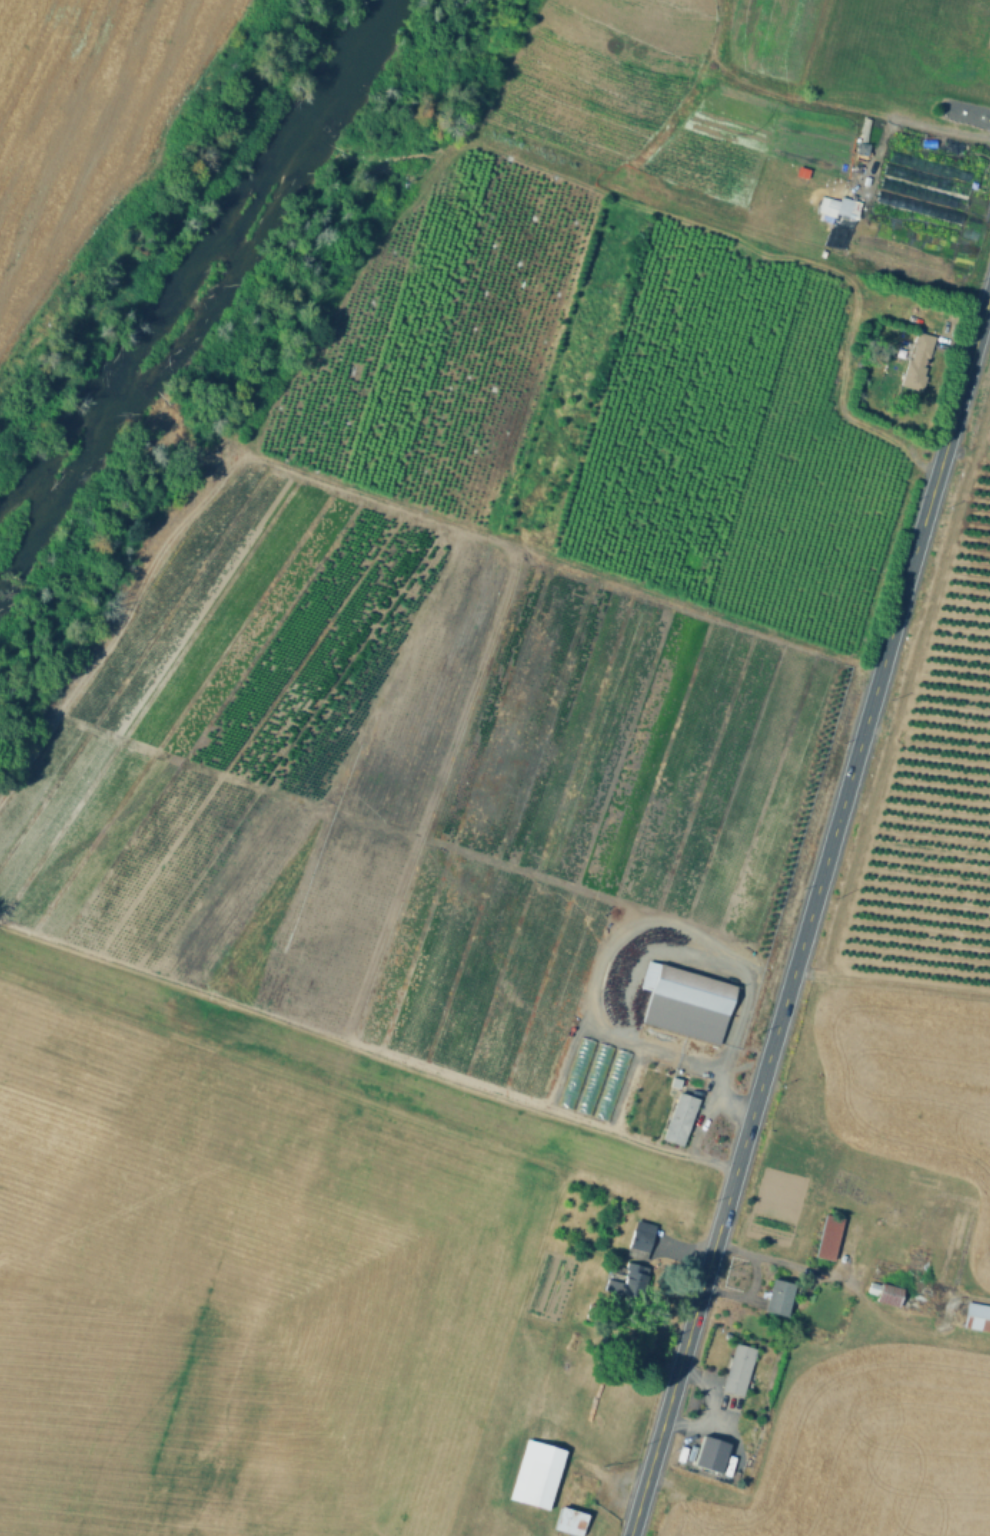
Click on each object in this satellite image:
crop: (907, 59)
crop: (678, 106)
crop: (77, 116)
crop: (907, 197)
building: (837, 207)
river: (197, 271)
building: (918, 360)
crop: (414, 779)
crop: (933, 781)
road: (809, 913)
road: (891, 985)
building: (686, 1003)
crop: (897, 1087)
building: (683, 1122)
building: (830, 1237)
building: (640, 1239)
building: (635, 1278)
crop: (238, 1291)
building: (780, 1297)
building: (902, 1297)
building: (978, 1317)
building: (740, 1369)
crop: (865, 1452)
building: (712, 1455)
building: (535, 1483)
building: (577, 1497)

